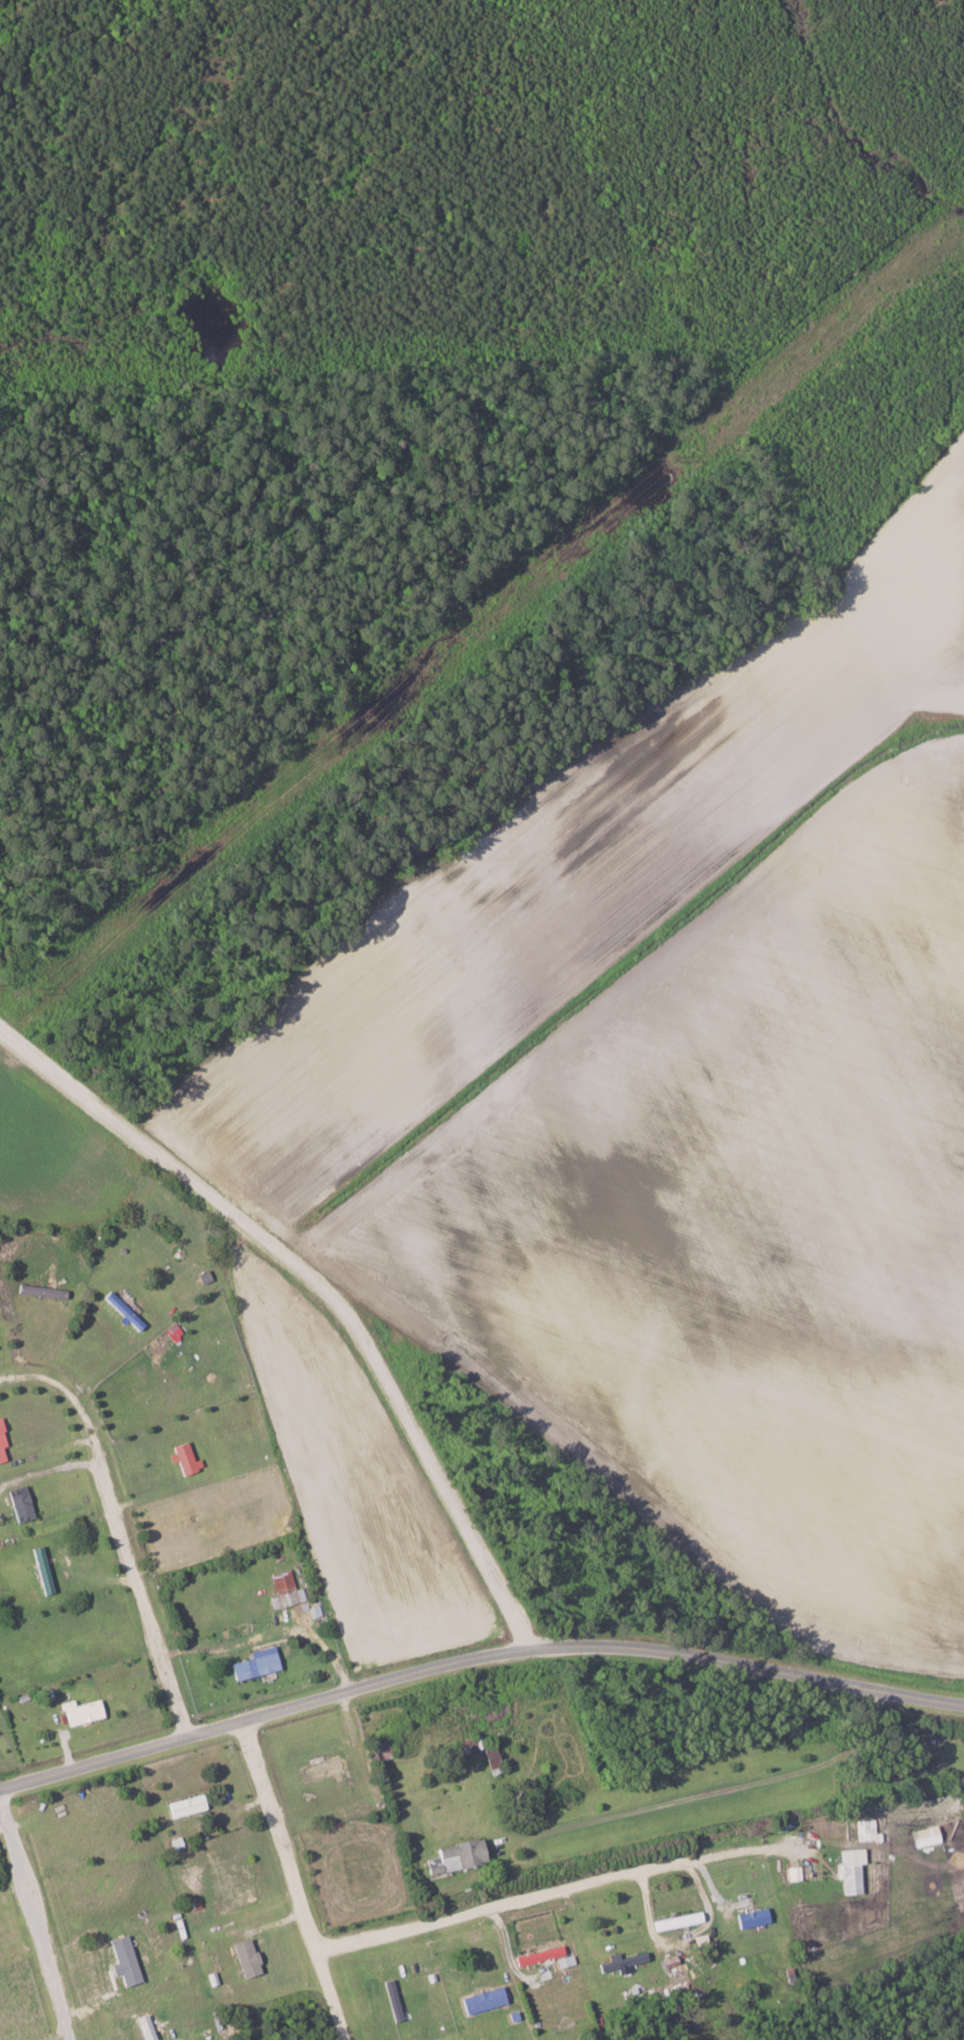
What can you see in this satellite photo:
power tower: (680, 457)
power tower: (429, 665)
power tower: (39, 993)
road: (324, 1290)
building: (2, 1444)
building: (183, 1457)
building: (20, 1503)
road: (120, 1530)
building: (42, 1570)
building: (284, 1589)
road: (476, 1658)
building: (255, 1663)
building: (80, 1712)
building: (379, 1751)
building: (492, 1762)
building: (318, 1769)
building: (185, 1806)
building: (865, 1830)
building: (455, 1856)
building: (849, 1870)
building: (794, 1873)
road: (296, 1880)
road: (529, 1897)
building: (752, 1917)
building: (677, 1921)
road: (37, 1923)
building: (539, 1955)
building: (246, 1958)
building: (123, 1961)
building: (622, 1962)
building: (482, 2000)
building: (145, 2027)

